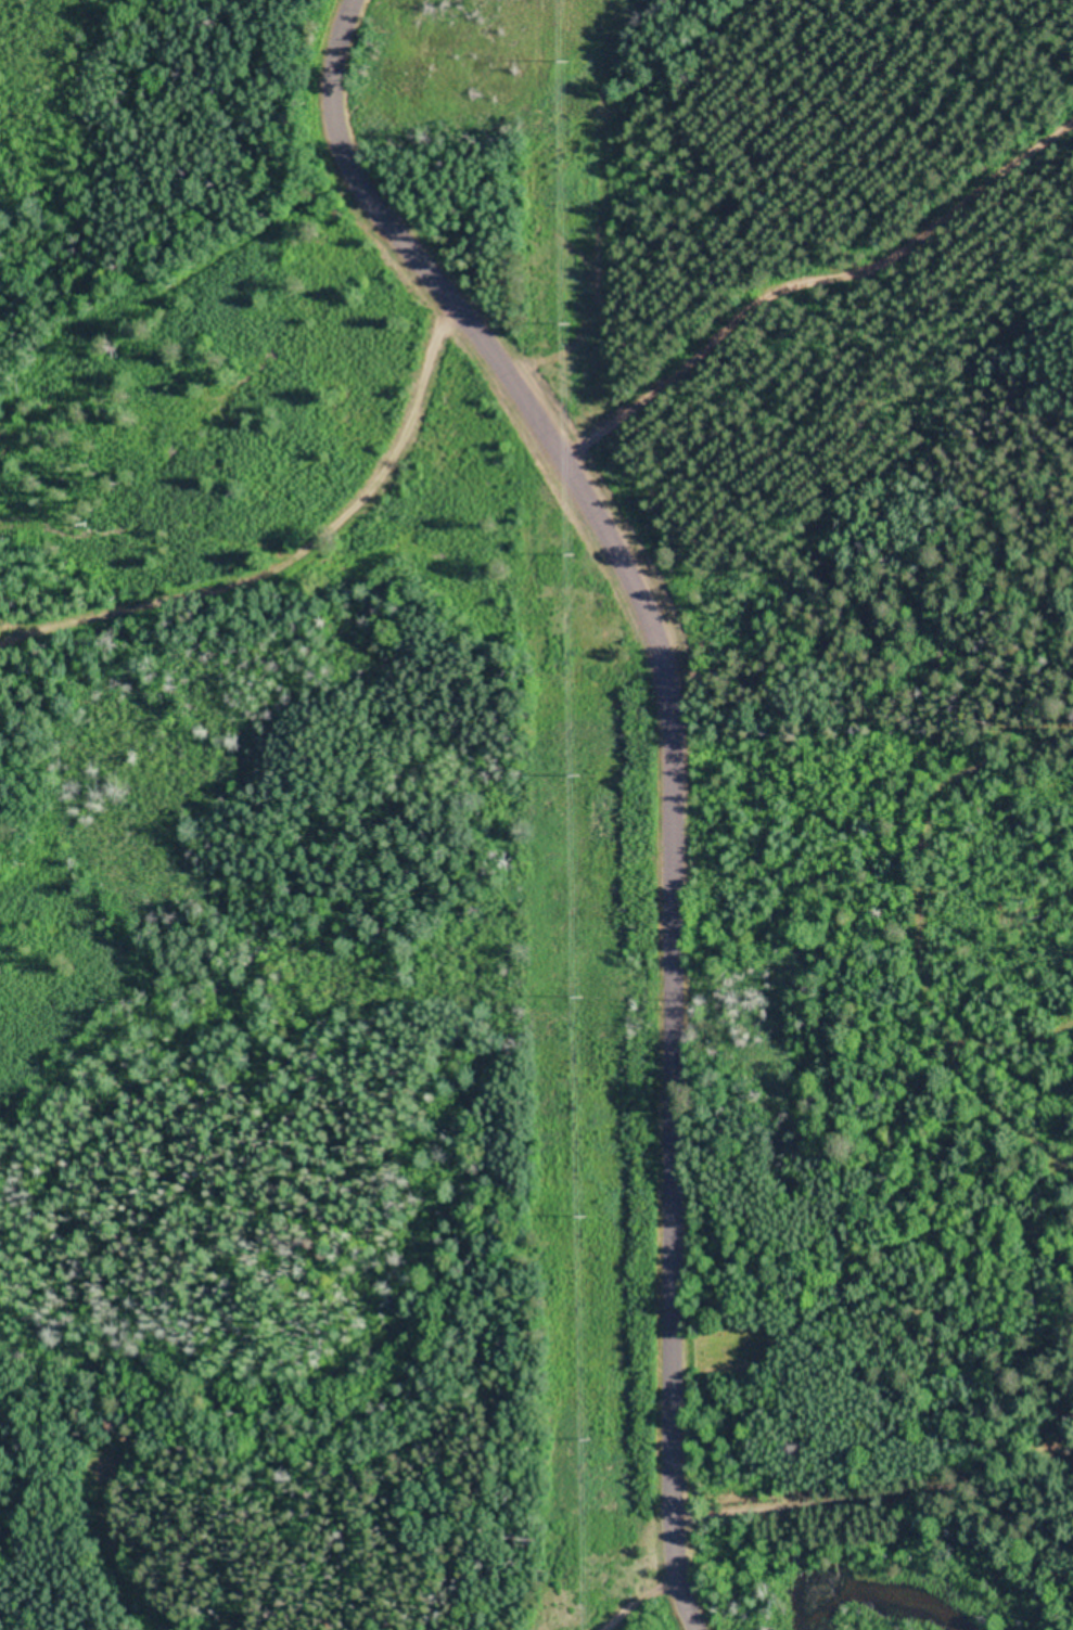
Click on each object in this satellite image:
road: (165, 233)
road: (264, 538)
road: (718, 752)
road: (895, 1443)
road: (148, 1541)
road: (606, 1587)

